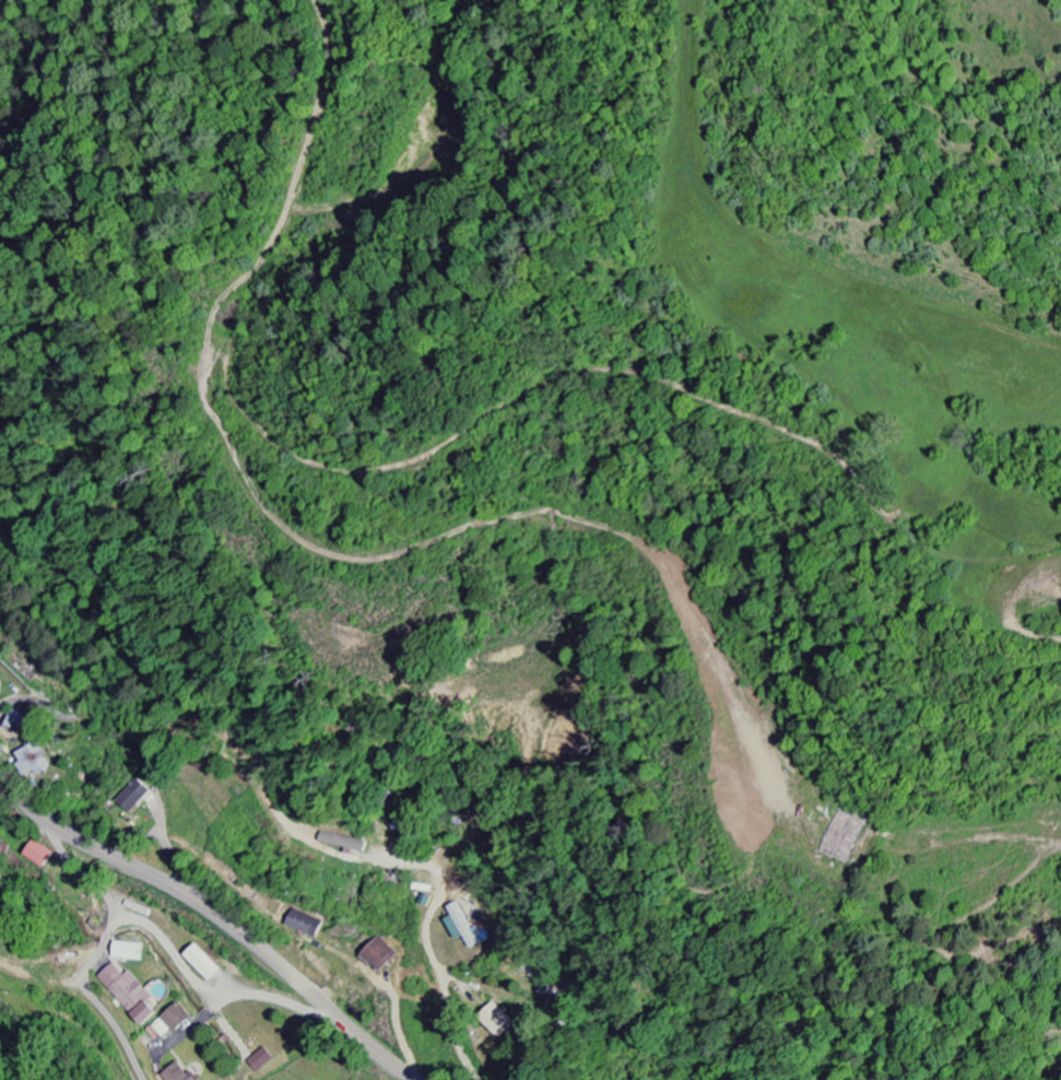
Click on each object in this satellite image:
building: (34, 761)
road: (2, 782)
building: (135, 797)
building: (42, 855)
road: (219, 914)
building: (307, 924)
building: (462, 926)
road: (97, 949)
building: (131, 952)
building: (381, 955)
building: (132, 995)
road: (449, 1001)
building: (498, 1021)
building: (172, 1022)
building: (263, 1060)
building: (179, 1073)

